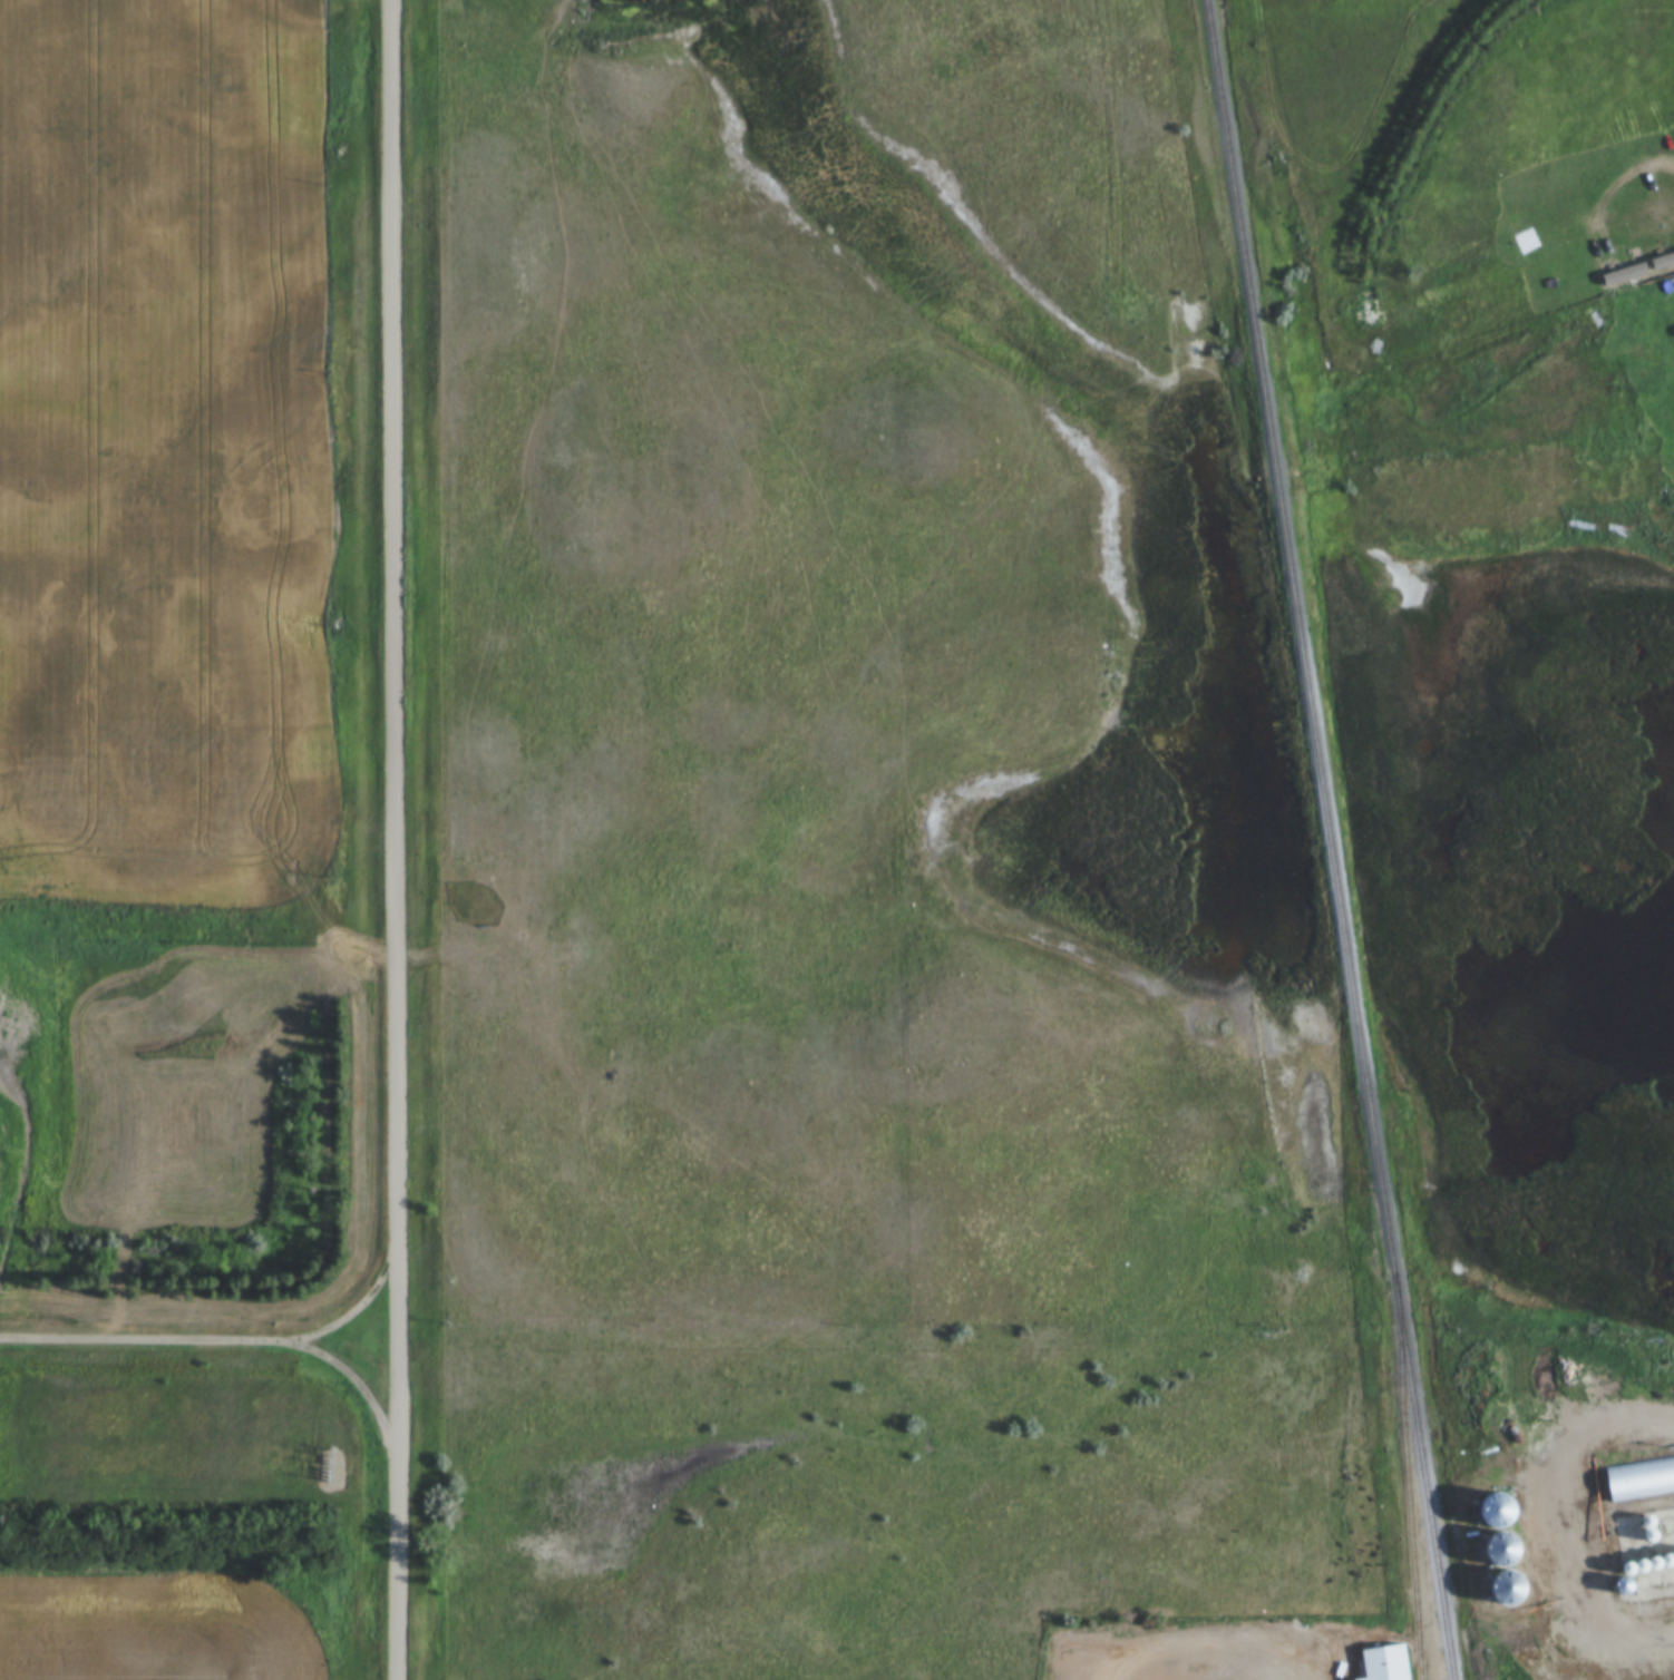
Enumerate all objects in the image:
building: (1672, 246)
building: (1636, 261)
road: (397, 839)
railway: (1333, 839)
road: (218, 1342)
building: (1452, 1350)
road: (359, 1383)
railway: (1405, 1463)
building: (1641, 1479)
building: (1500, 1511)
road: (1580, 1520)
building: (1511, 1588)
road: (1227, 1655)
building: (1385, 1663)

